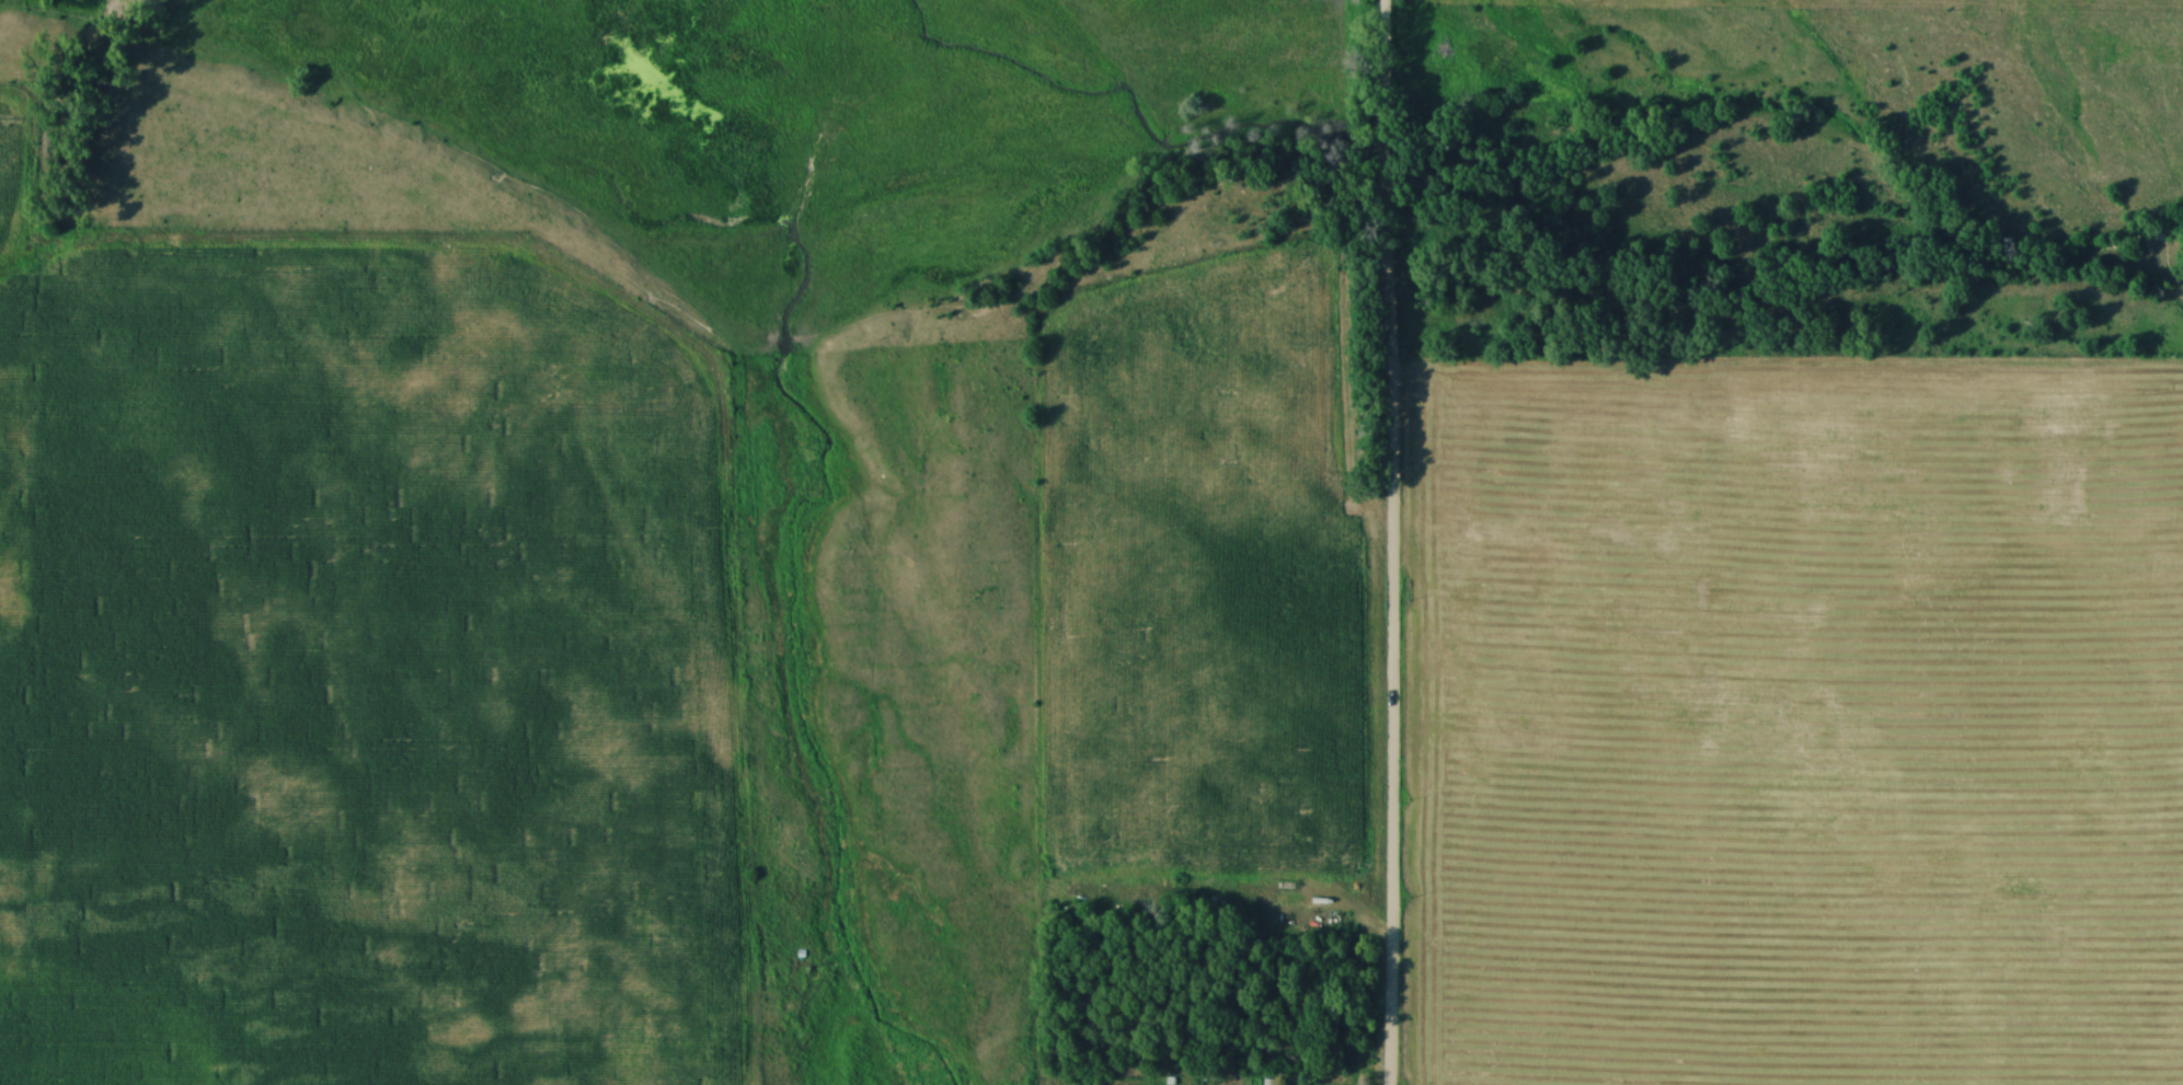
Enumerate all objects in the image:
road: (1387, 542)

